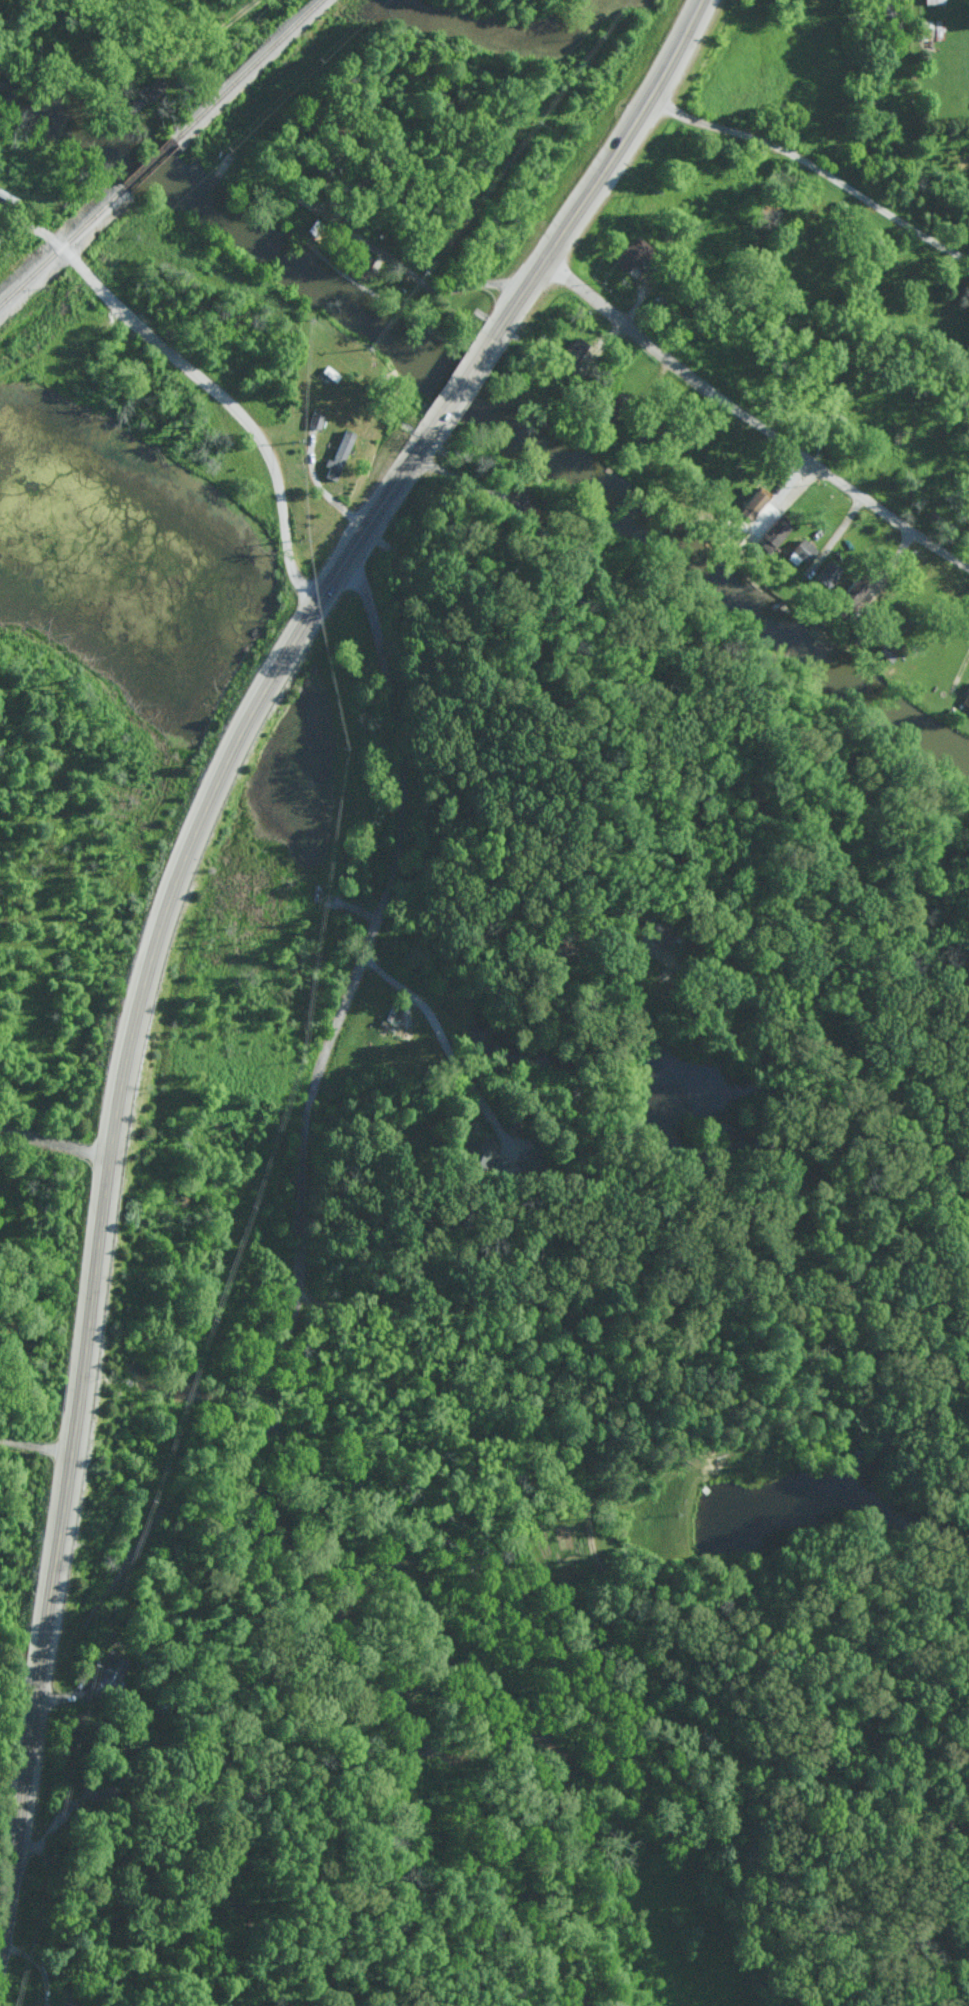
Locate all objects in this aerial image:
building: (935, 1)
road: (149, 50)
railway: (249, 69)
building: (156, 87)
railway: (148, 162)
road: (602, 168)
road: (814, 168)
road: (19, 234)
railway: (62, 246)
building: (635, 253)
building: (576, 347)
road: (203, 375)
road: (462, 383)
river: (494, 405)
building: (316, 418)
road: (751, 418)
building: (339, 455)
building: (756, 502)
building: (777, 530)
building: (803, 551)
building: (830, 573)
road: (963, 663)
building: (964, 698)
road: (353, 908)
road: (362, 956)
road: (55, 1139)
road: (111, 1151)
parking lot: (283, 1228)
road: (643, 1265)
road: (36, 1439)
road: (588, 1503)
building: (111, 1673)

